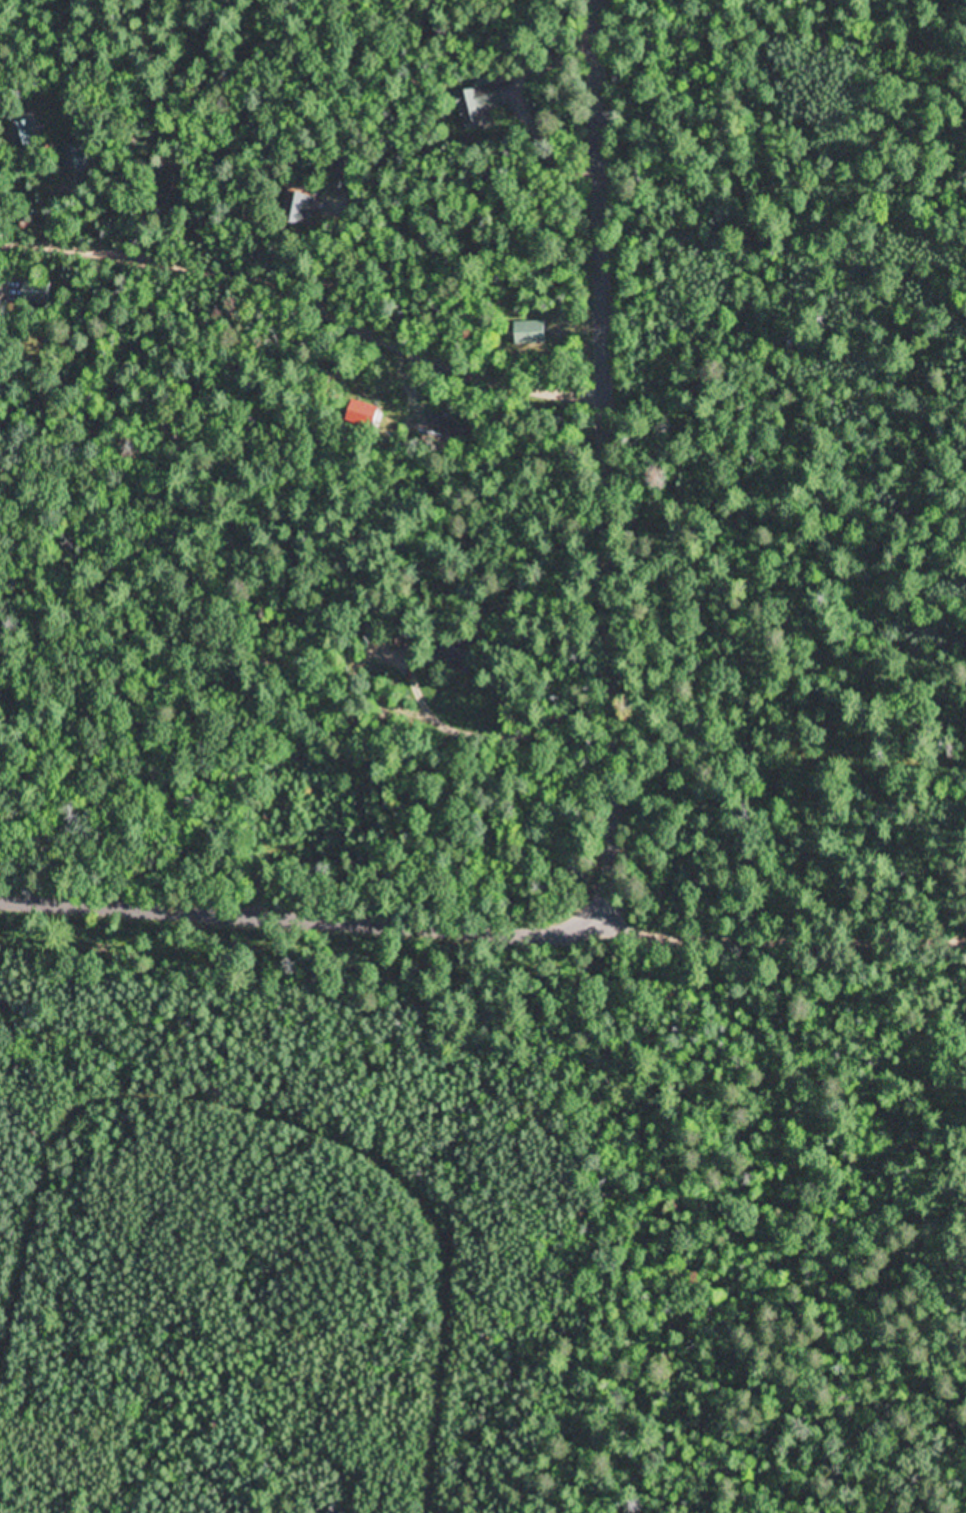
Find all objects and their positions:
building: (464, 104)
building: (297, 208)
building: (31, 292)
road: (307, 293)
building: (528, 333)
road: (603, 463)
road: (292, 913)
road: (774, 931)

